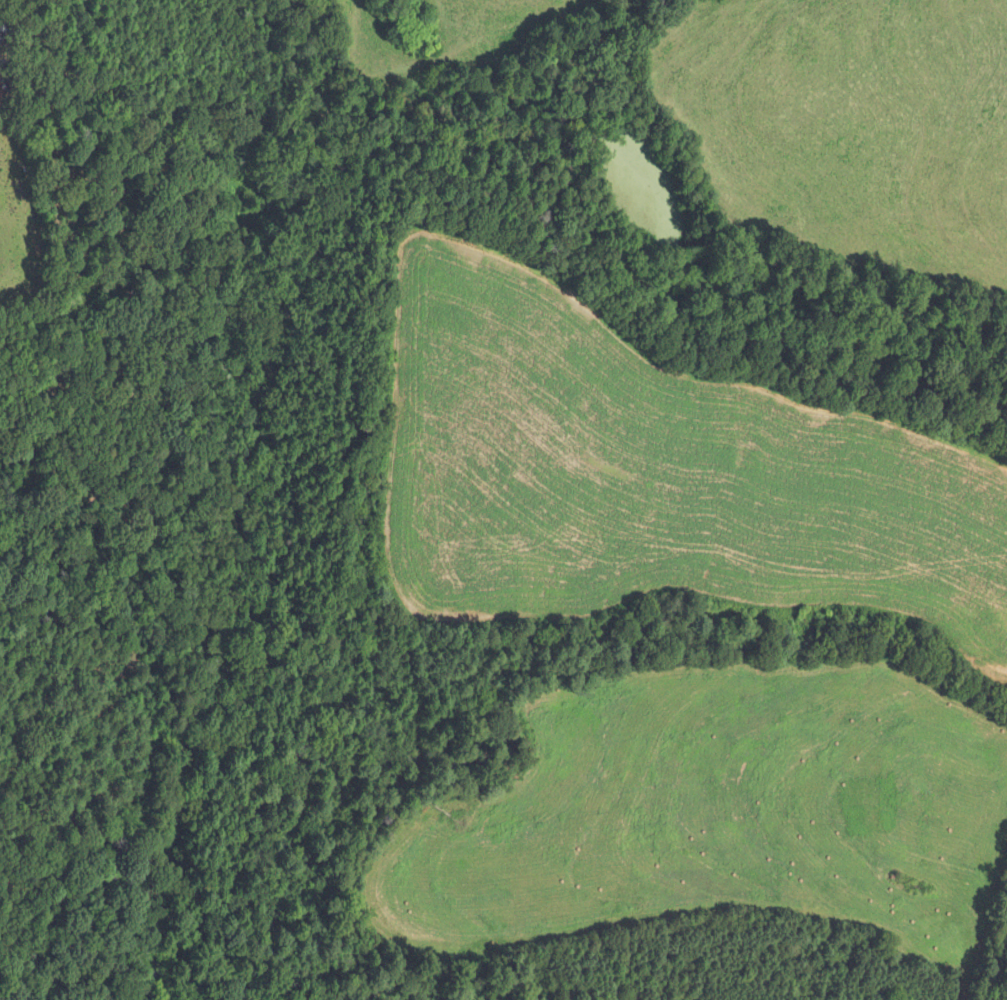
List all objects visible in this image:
building: (5, 28)

